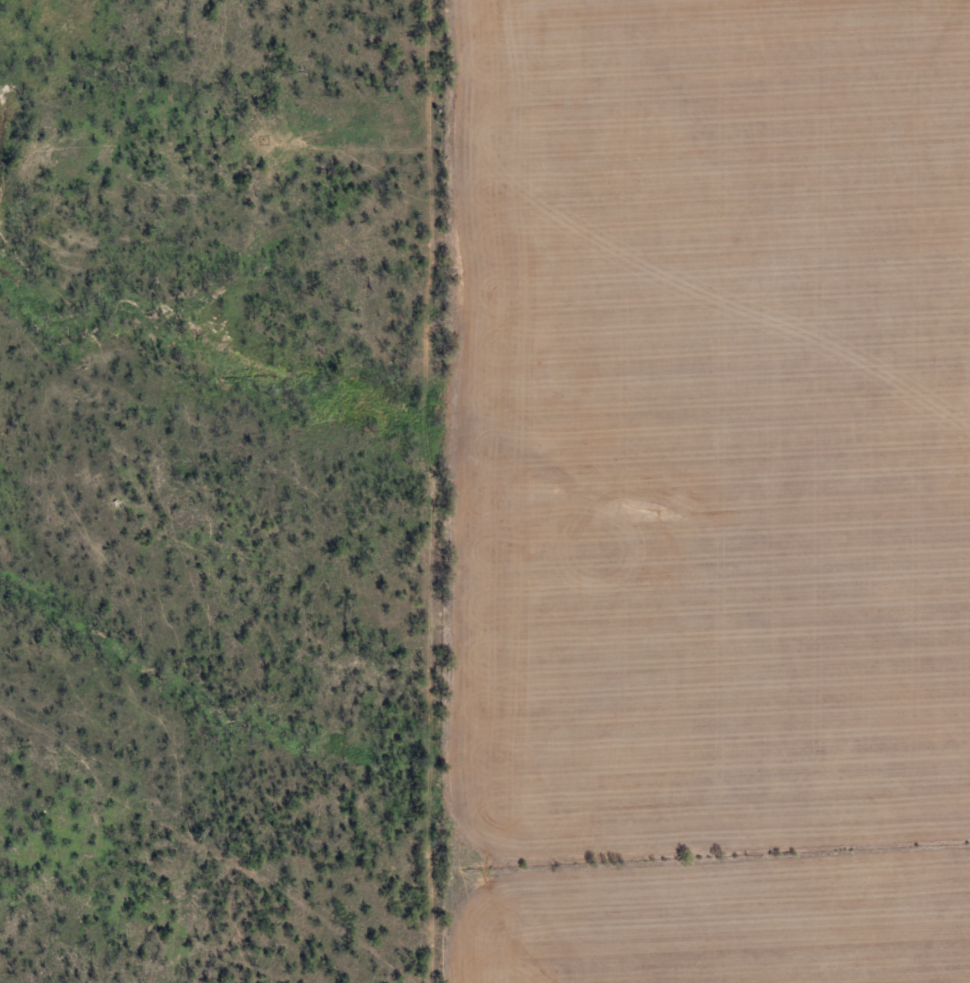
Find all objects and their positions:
power tower: (198, 835)

